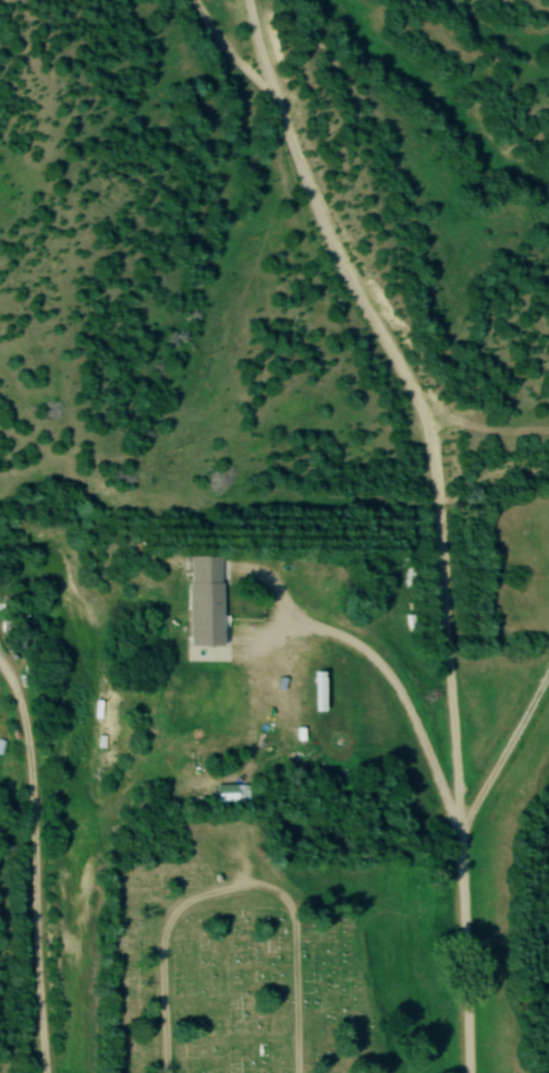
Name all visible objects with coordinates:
road: (412, 401)
park: (514, 548)
building: (203, 601)
road: (394, 679)
road: (20, 700)
road: (503, 748)
building: (231, 794)
road: (233, 894)
road: (35, 909)
road: (462, 953)
park: (271, 960)

